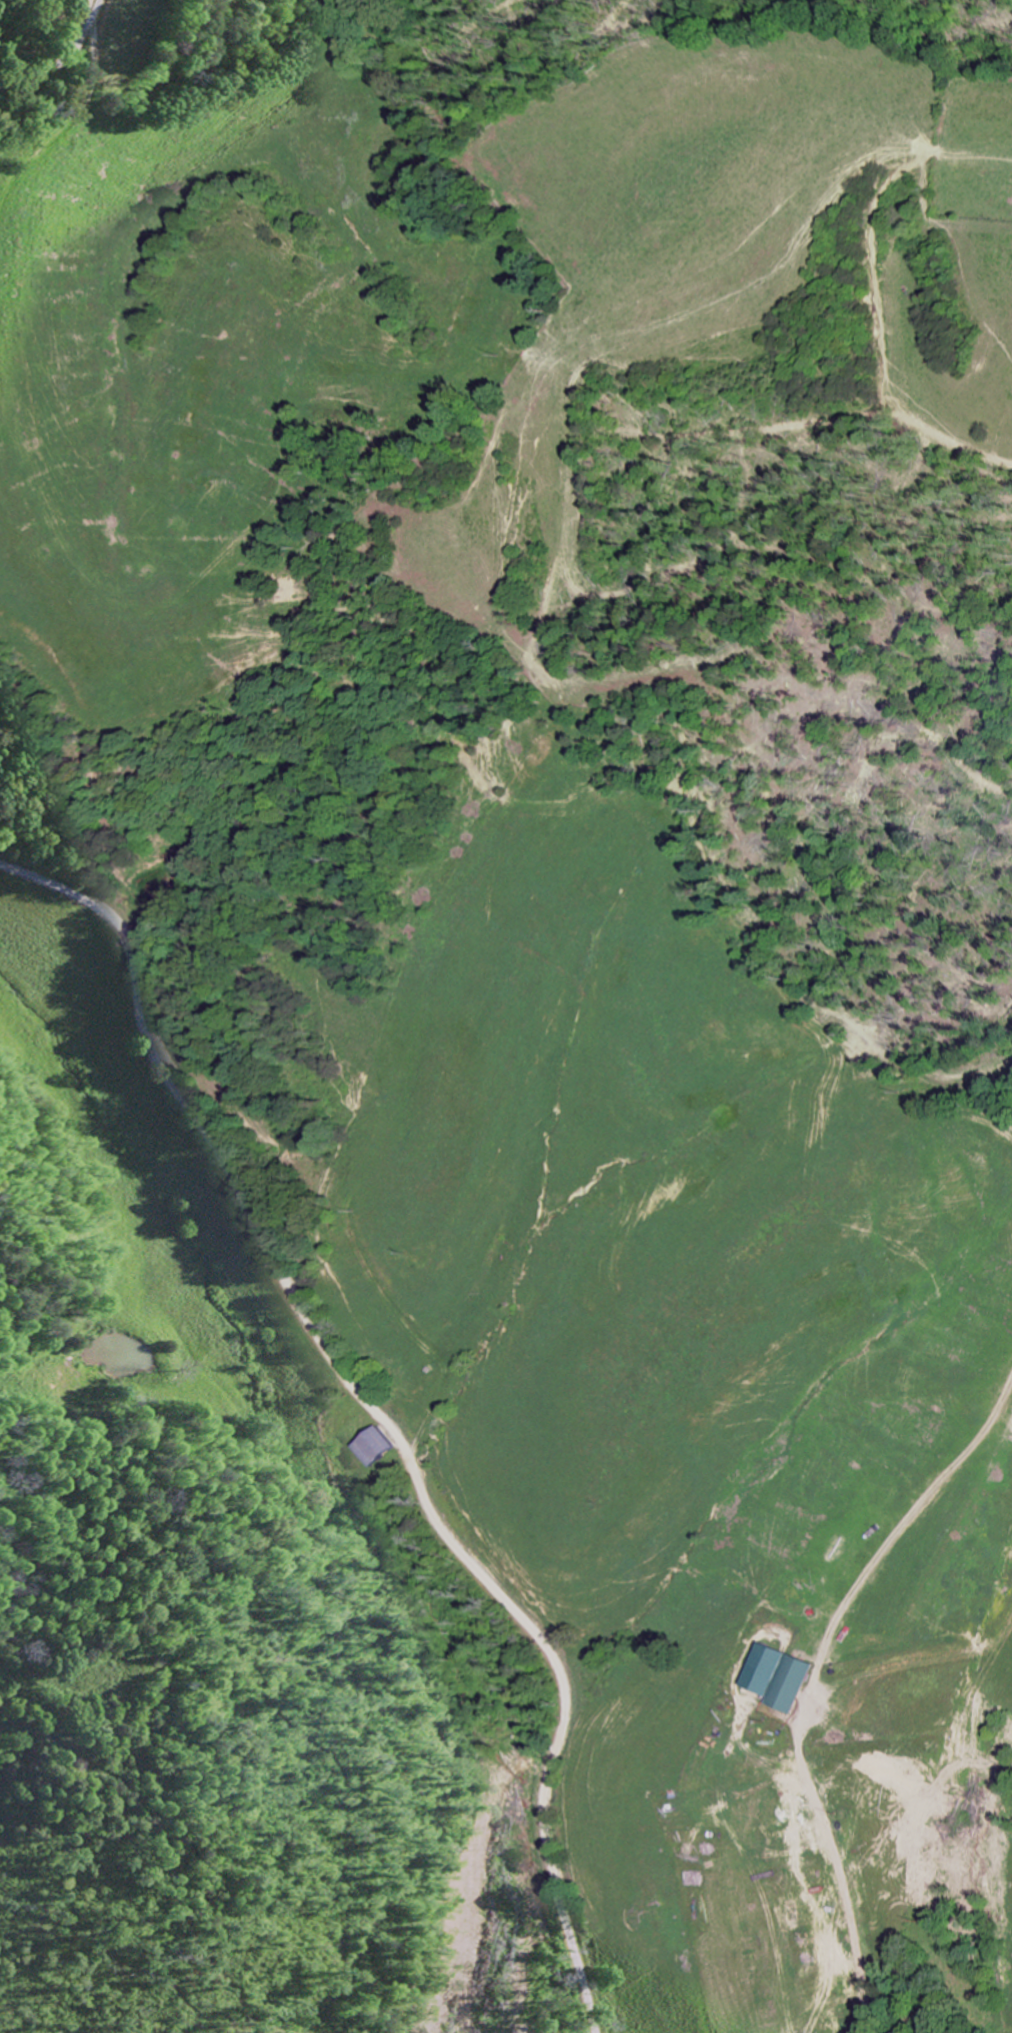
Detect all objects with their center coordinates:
road: (63, 60)
road: (357, 1393)
building: (378, 1446)
building: (781, 1677)
road: (864, 1770)

